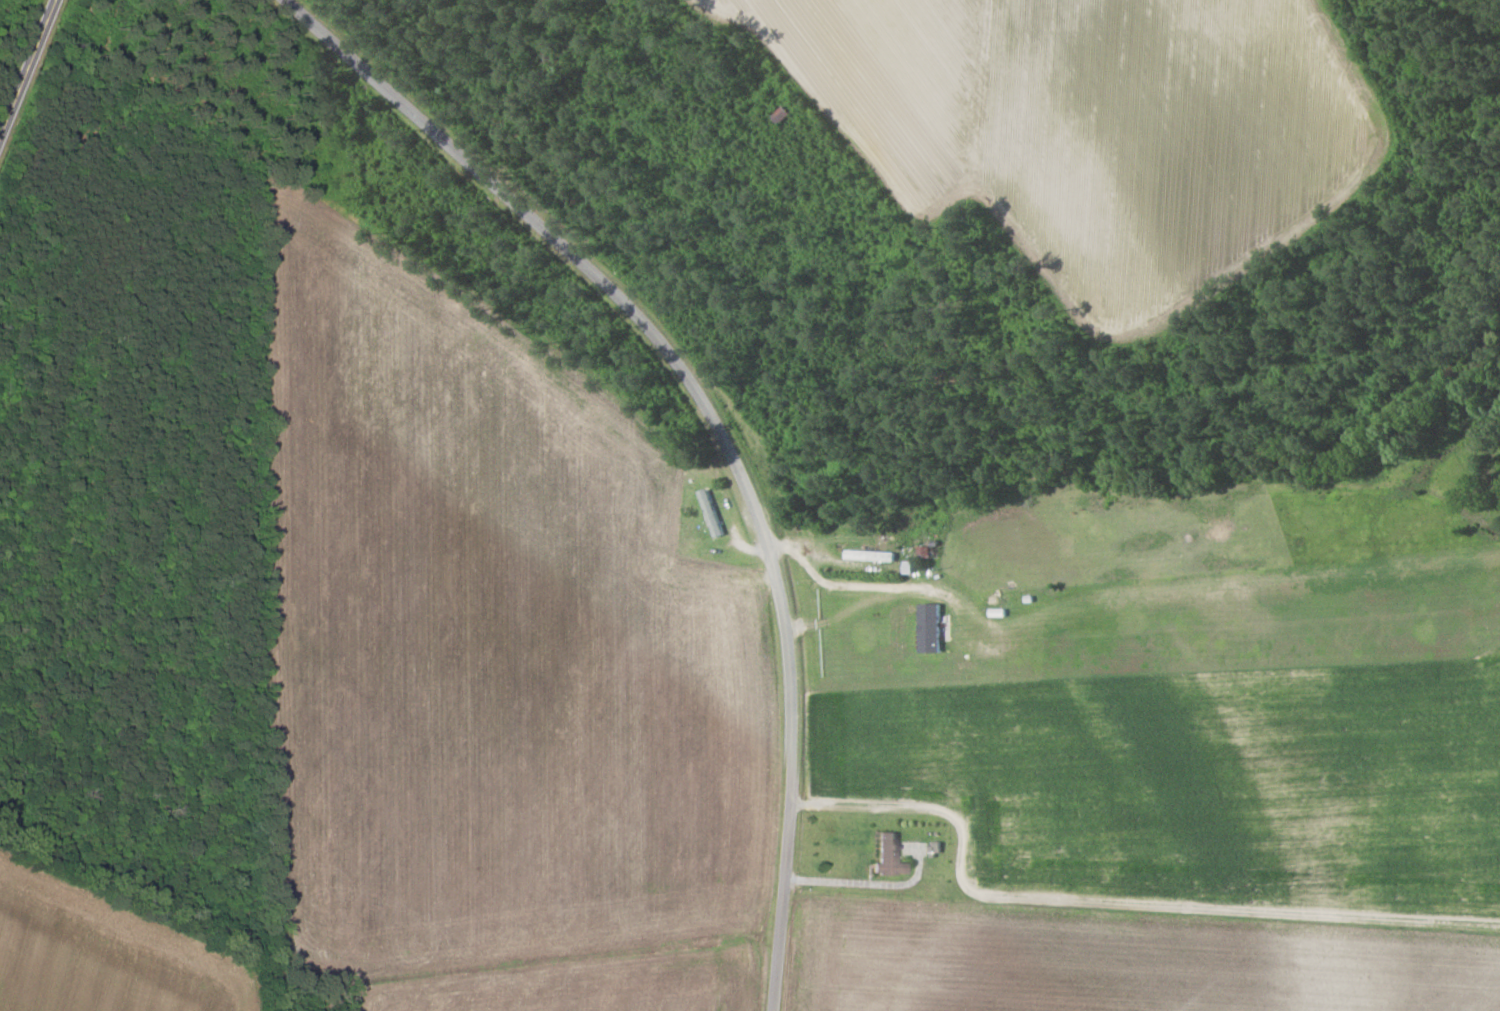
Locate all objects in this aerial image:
road: (25, 64)
road: (728, 412)
building: (929, 628)
building: (887, 855)

